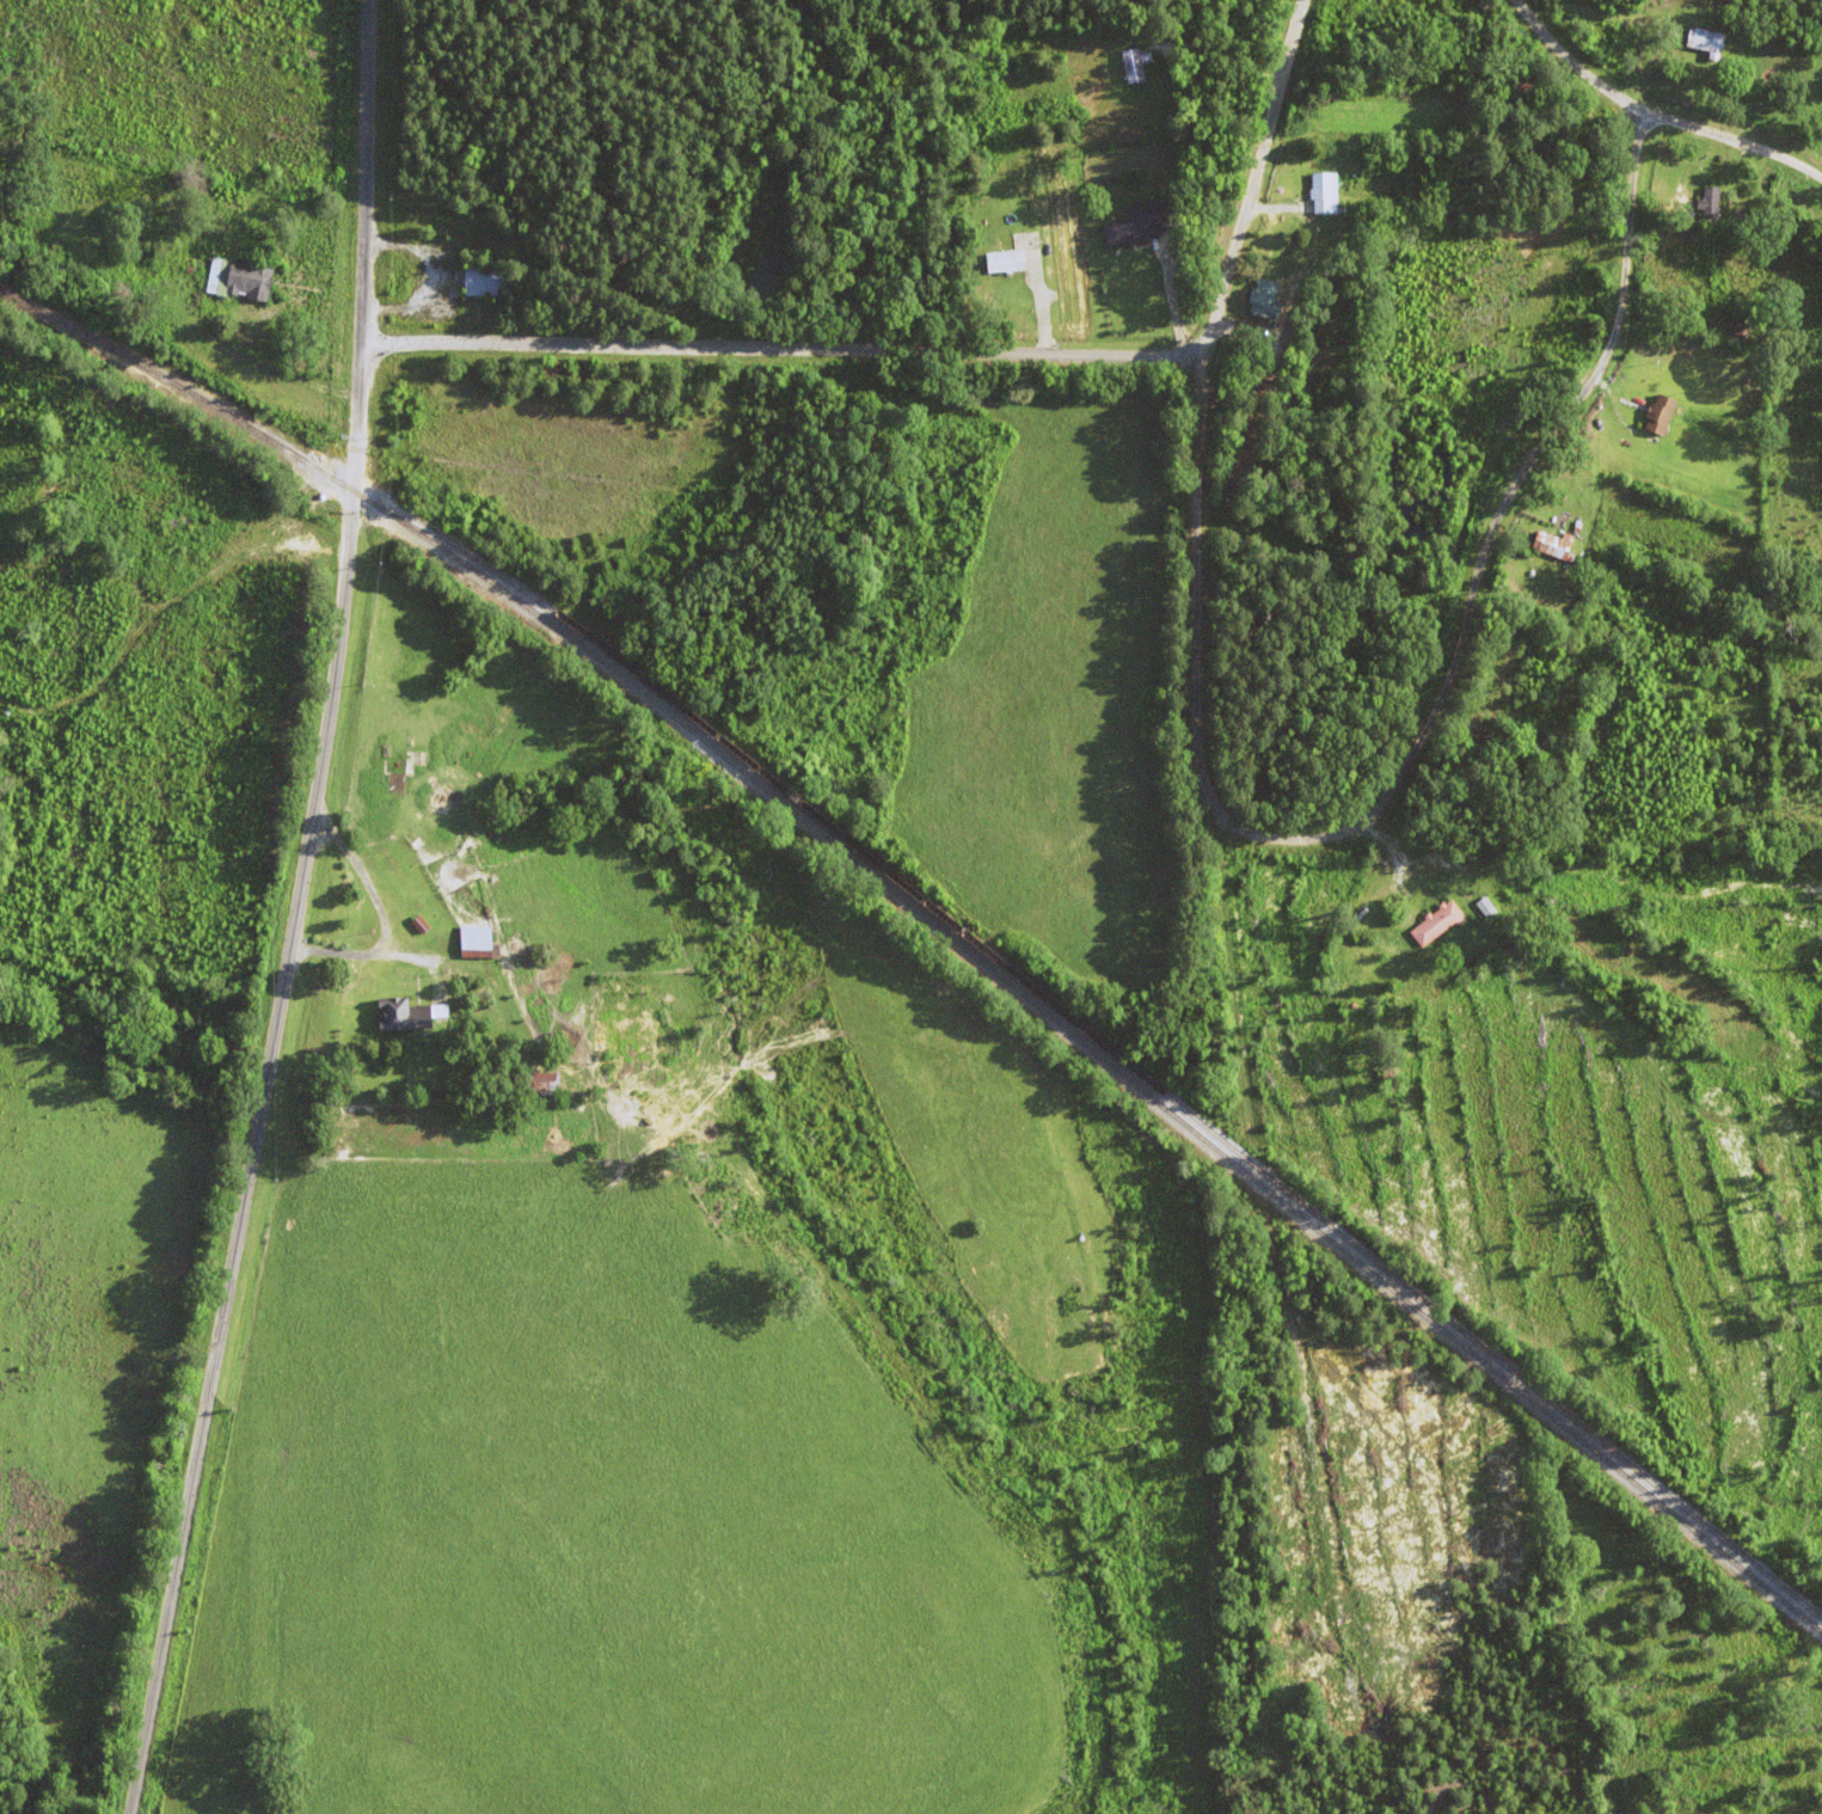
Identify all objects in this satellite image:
road: (1645, 38)
road: (1651, 116)
road: (1260, 177)
road: (784, 348)
road: (1492, 535)
road: (1201, 586)
road: (296, 912)
railway: (957, 940)
road: (1276, 1312)

